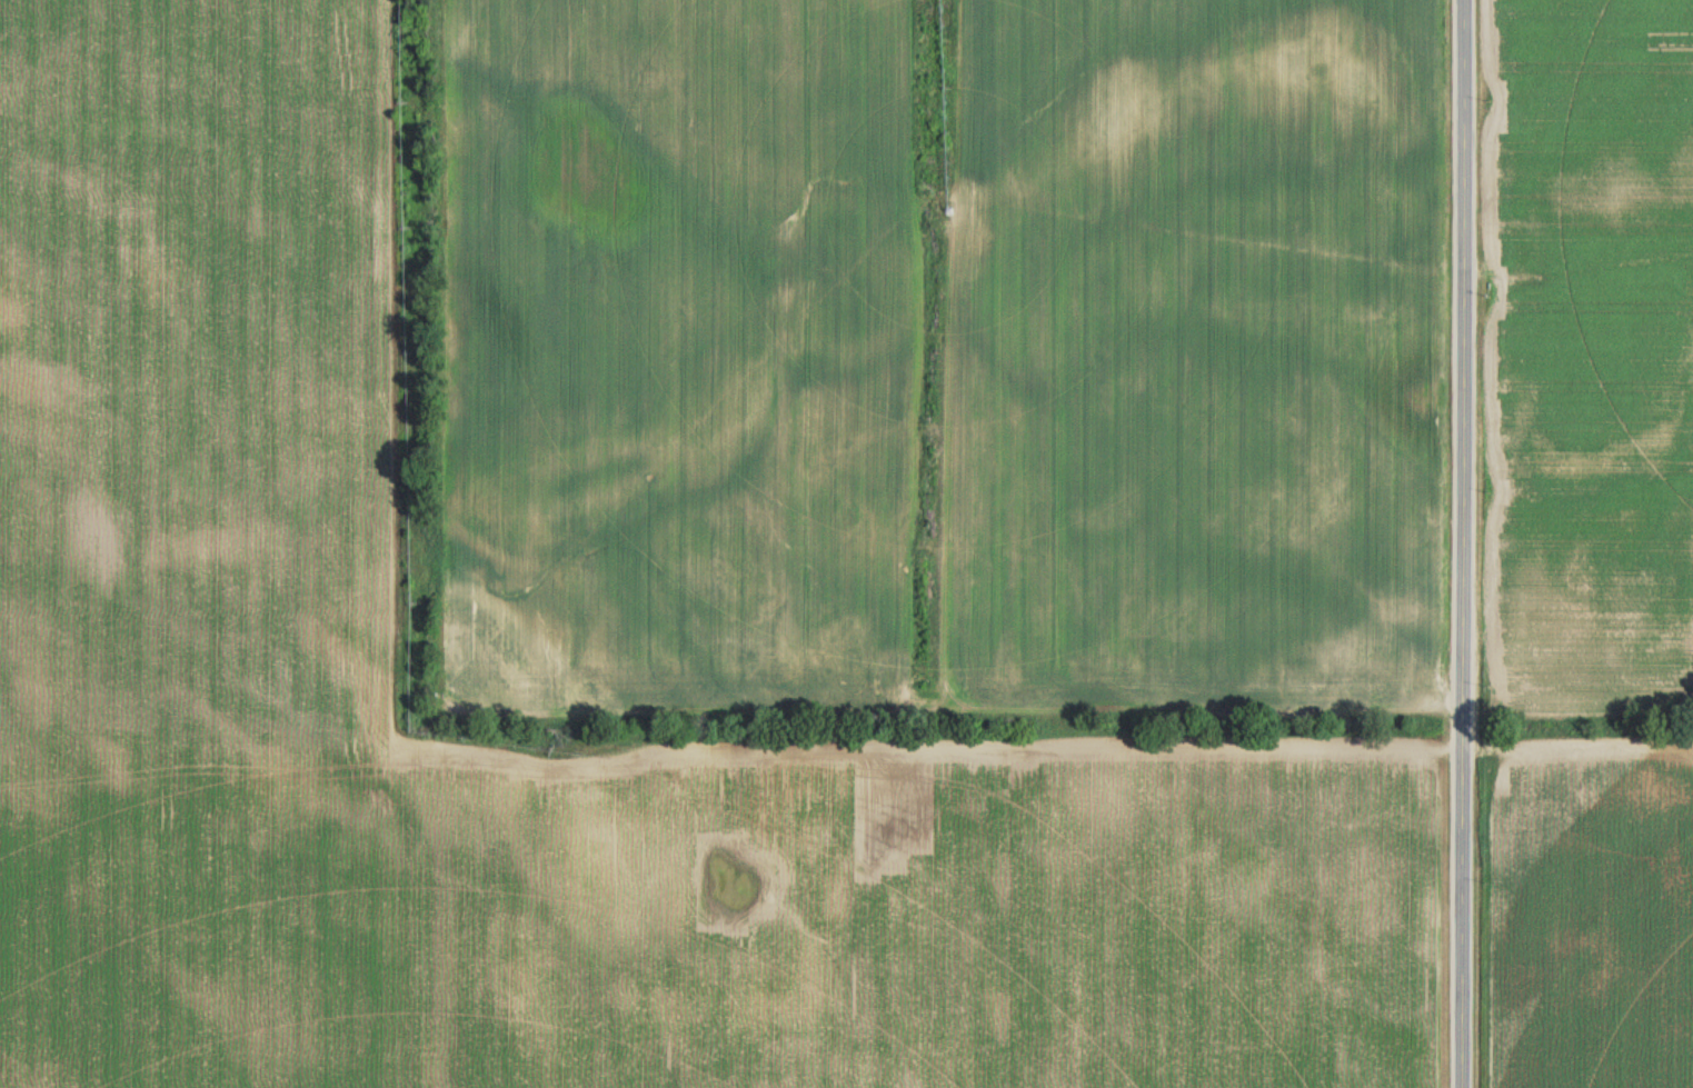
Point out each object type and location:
road: (1462, 543)

